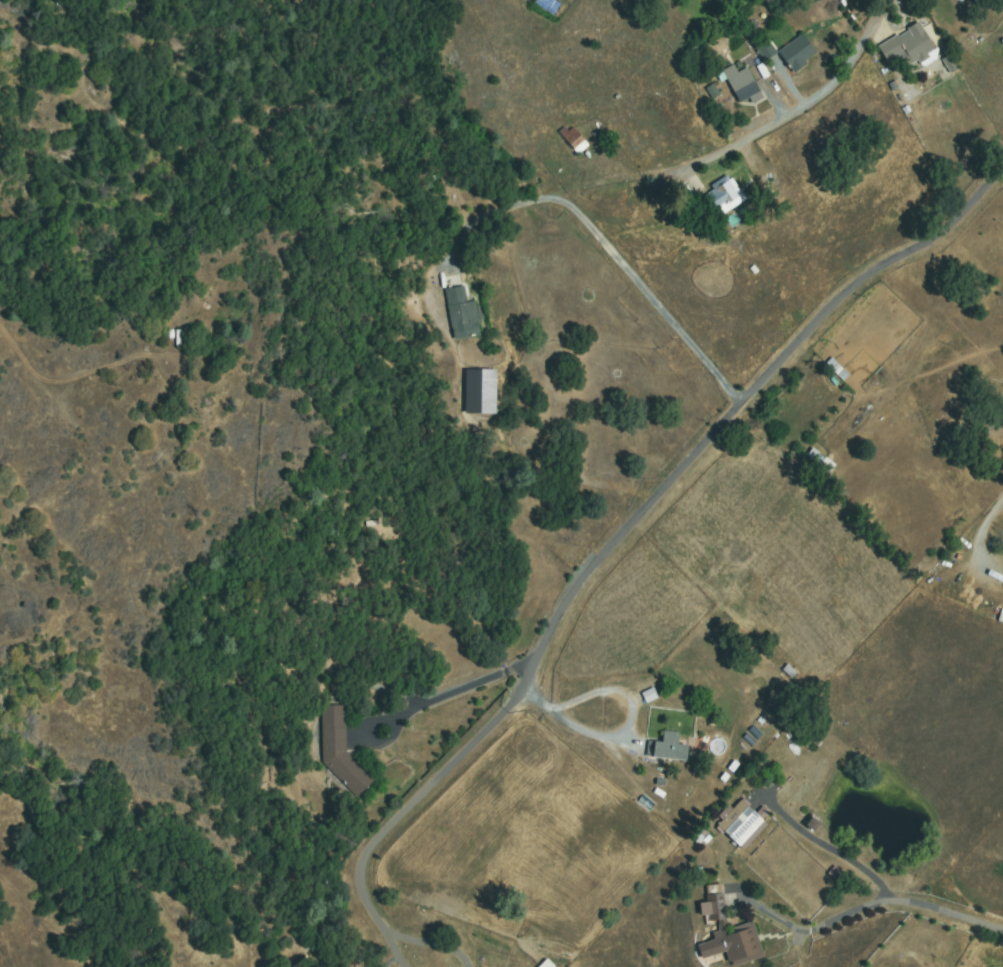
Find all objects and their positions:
building: (910, 47)
building: (765, 50)
building: (797, 53)
building: (947, 63)
building: (742, 86)
building: (712, 91)
road: (796, 117)
building: (574, 140)
building: (723, 197)
building: (461, 314)
building: (478, 391)
road: (659, 499)
road: (1001, 510)
building: (647, 694)
building: (667, 748)
building: (340, 751)
building: (741, 822)
road: (950, 919)
building: (732, 931)
building: (544, 963)

